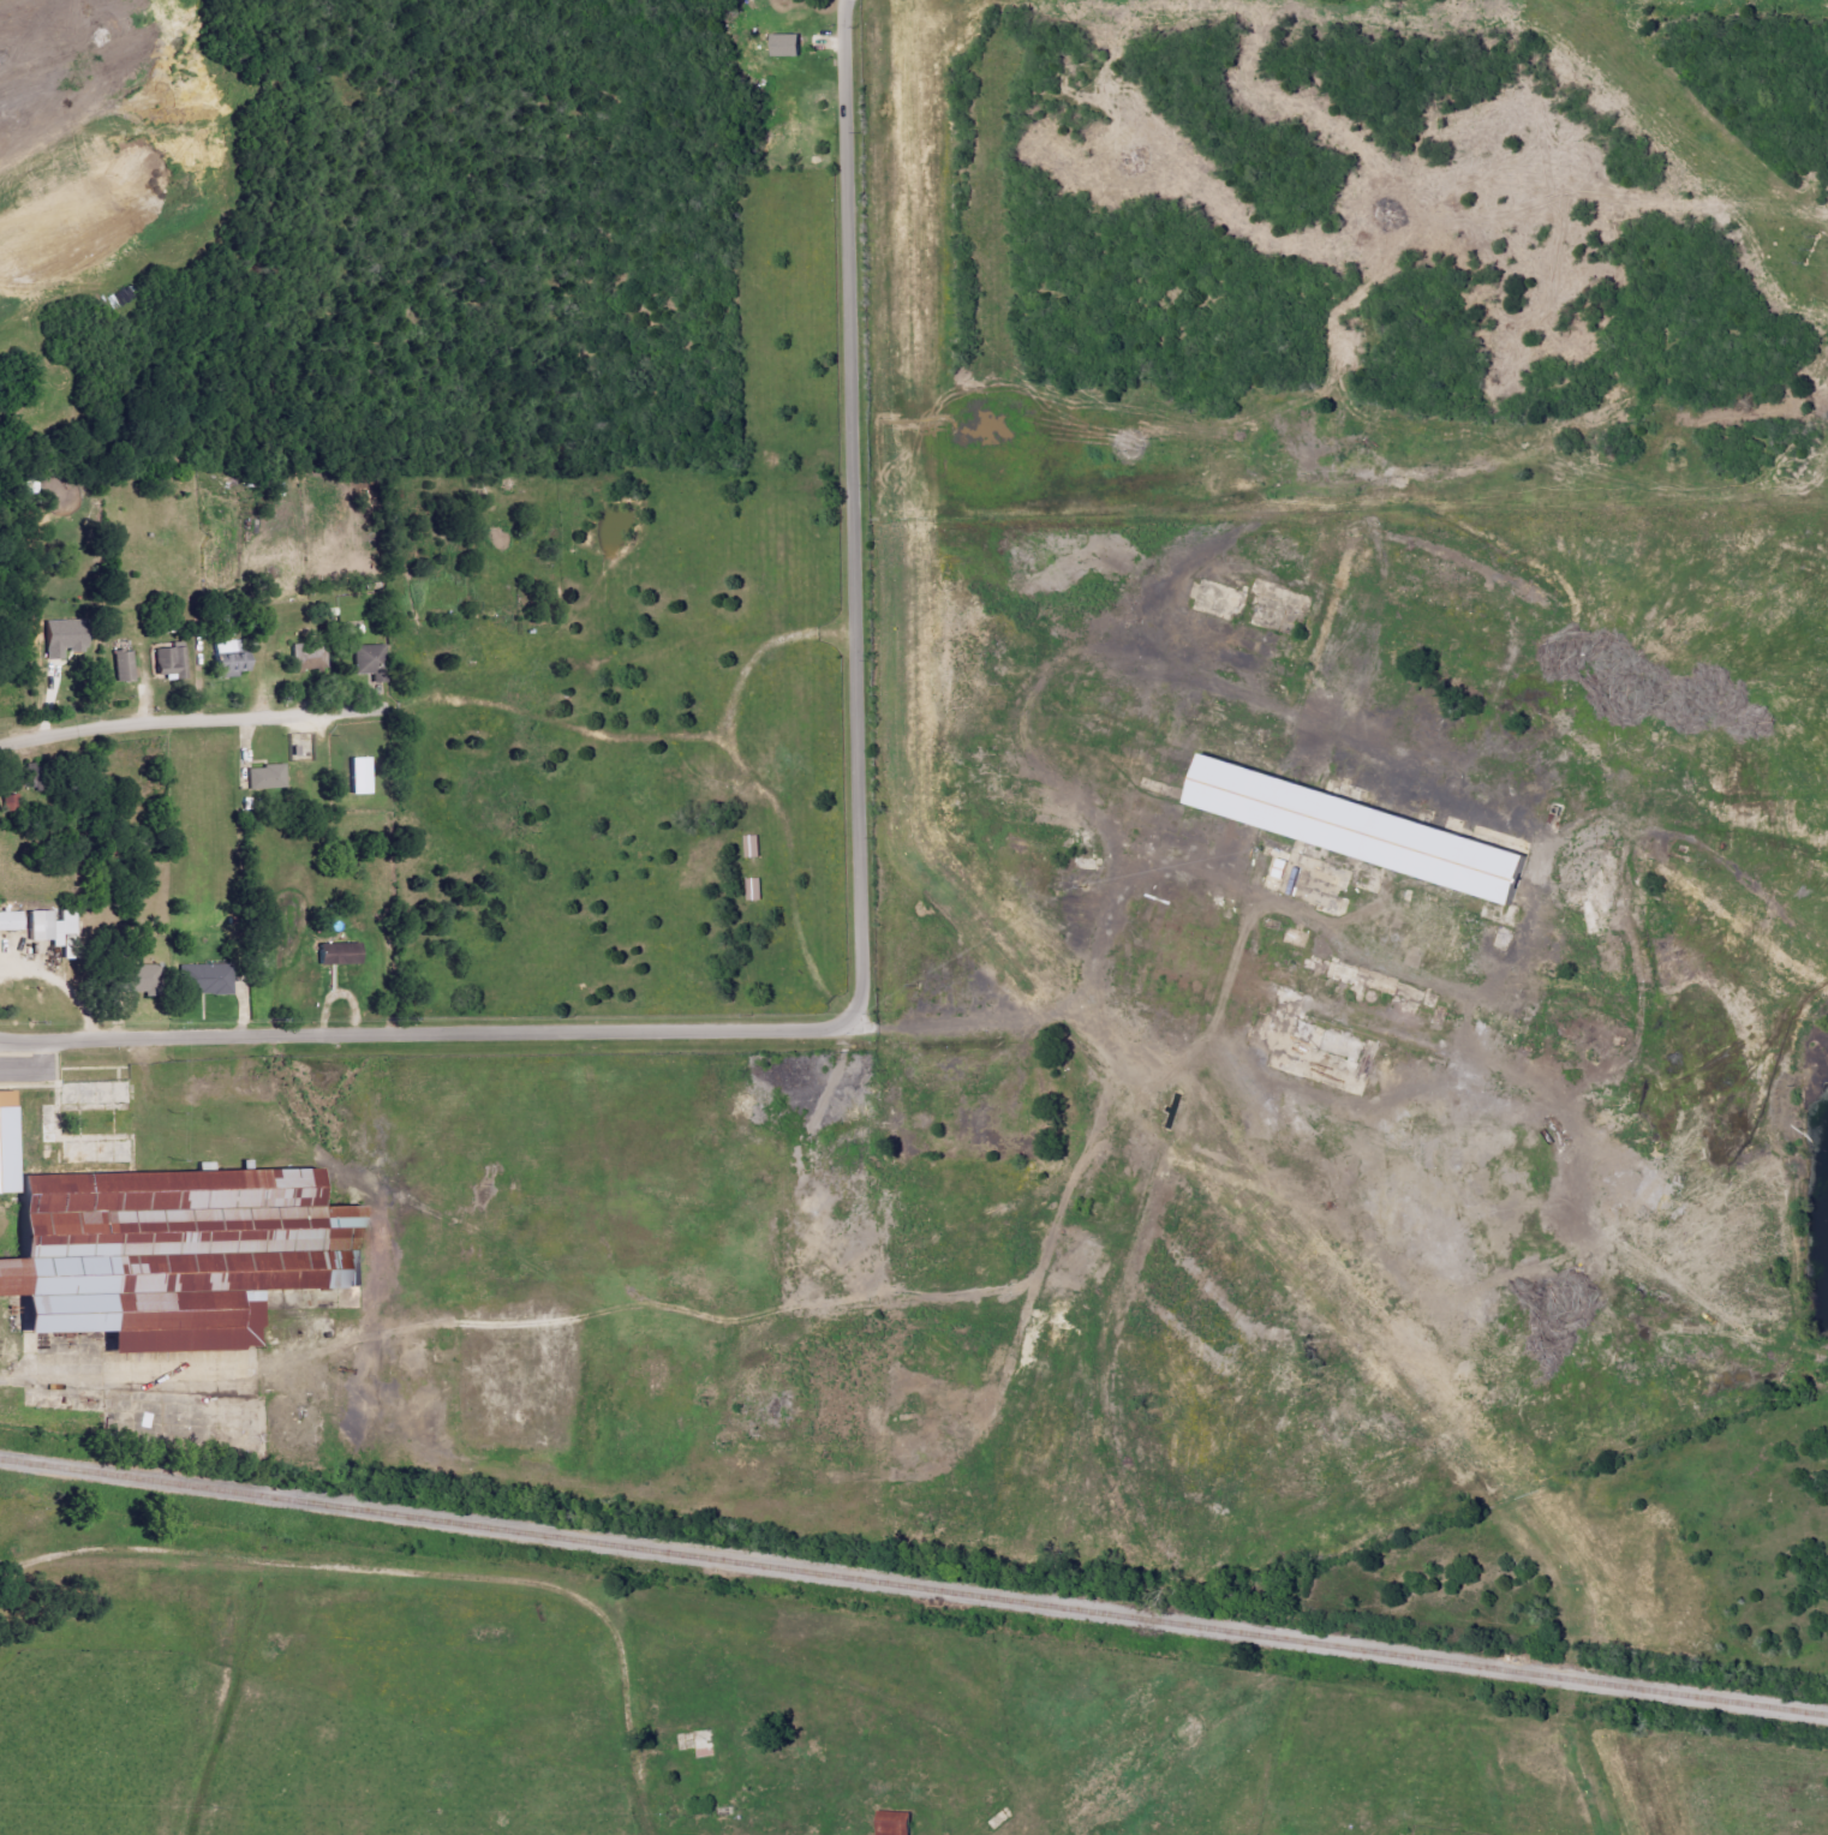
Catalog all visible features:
building: (787, 46)
power tower: (1803, 247)
building: (64, 639)
building: (229, 659)
building: (309, 659)
building: (171, 661)
building: (124, 667)
road: (167, 721)
building: (359, 776)
building: (264, 782)
building: (1361, 831)
building: (753, 847)
building: (755, 890)
building: (10, 922)
building: (46, 926)
road: (861, 939)
building: (339, 955)
building: (136, 979)
building: (205, 980)
building: (86, 1138)
building: (178, 1255)
road: (423, 1573)
railway: (913, 1588)

